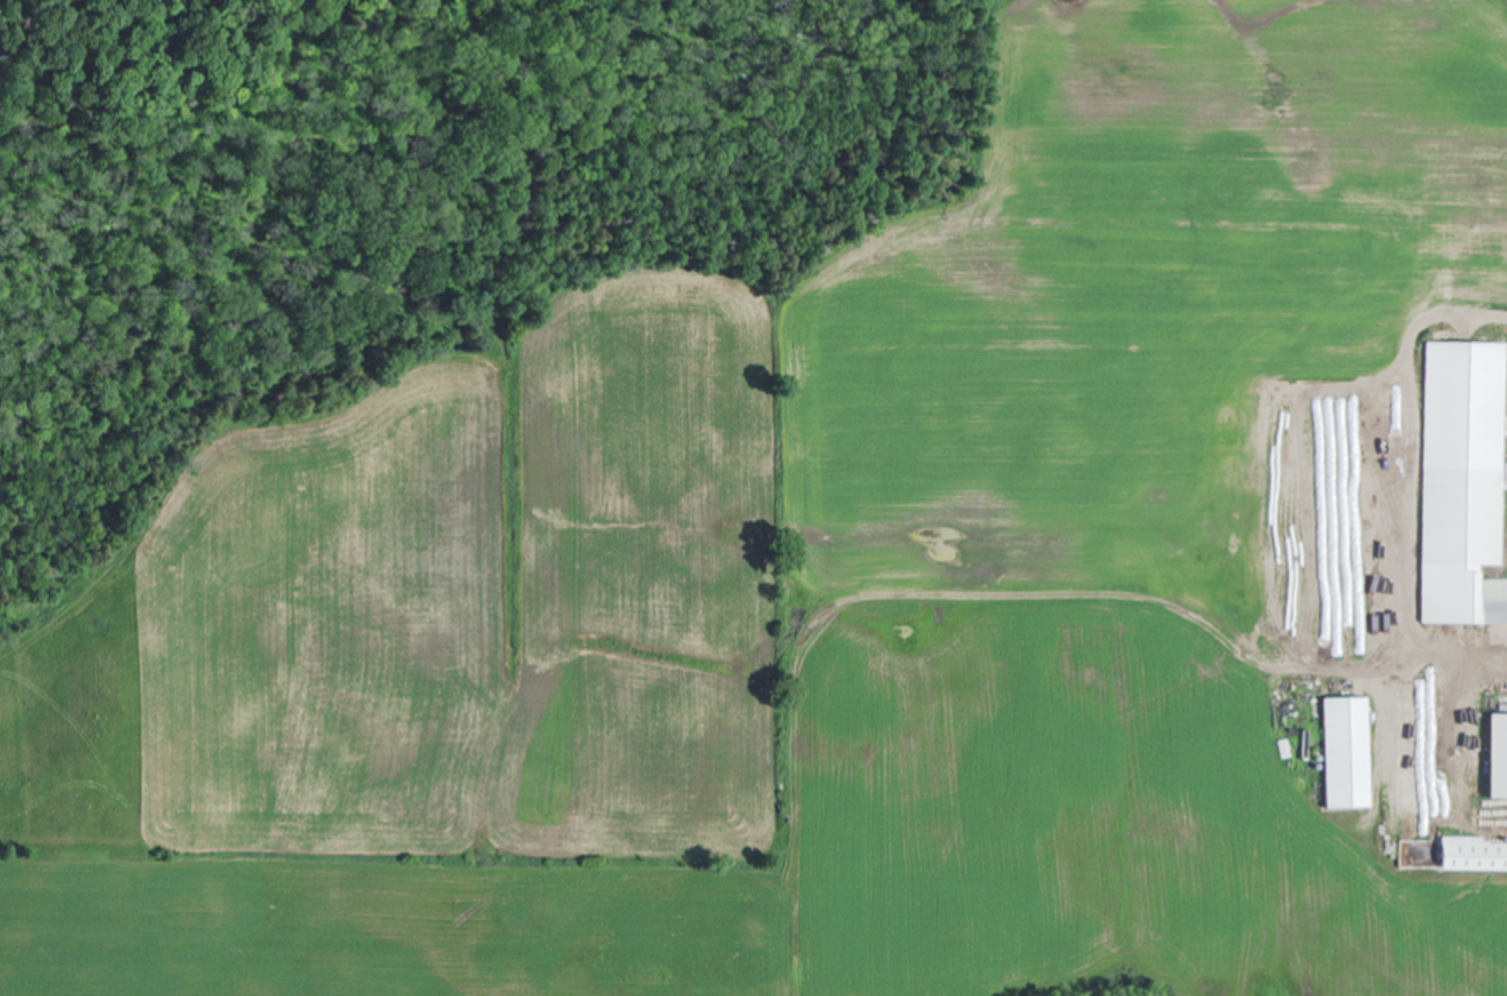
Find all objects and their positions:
building: (1465, 485)
building: (1284, 749)
building: (1348, 754)
building: (1499, 758)
building: (1474, 855)

